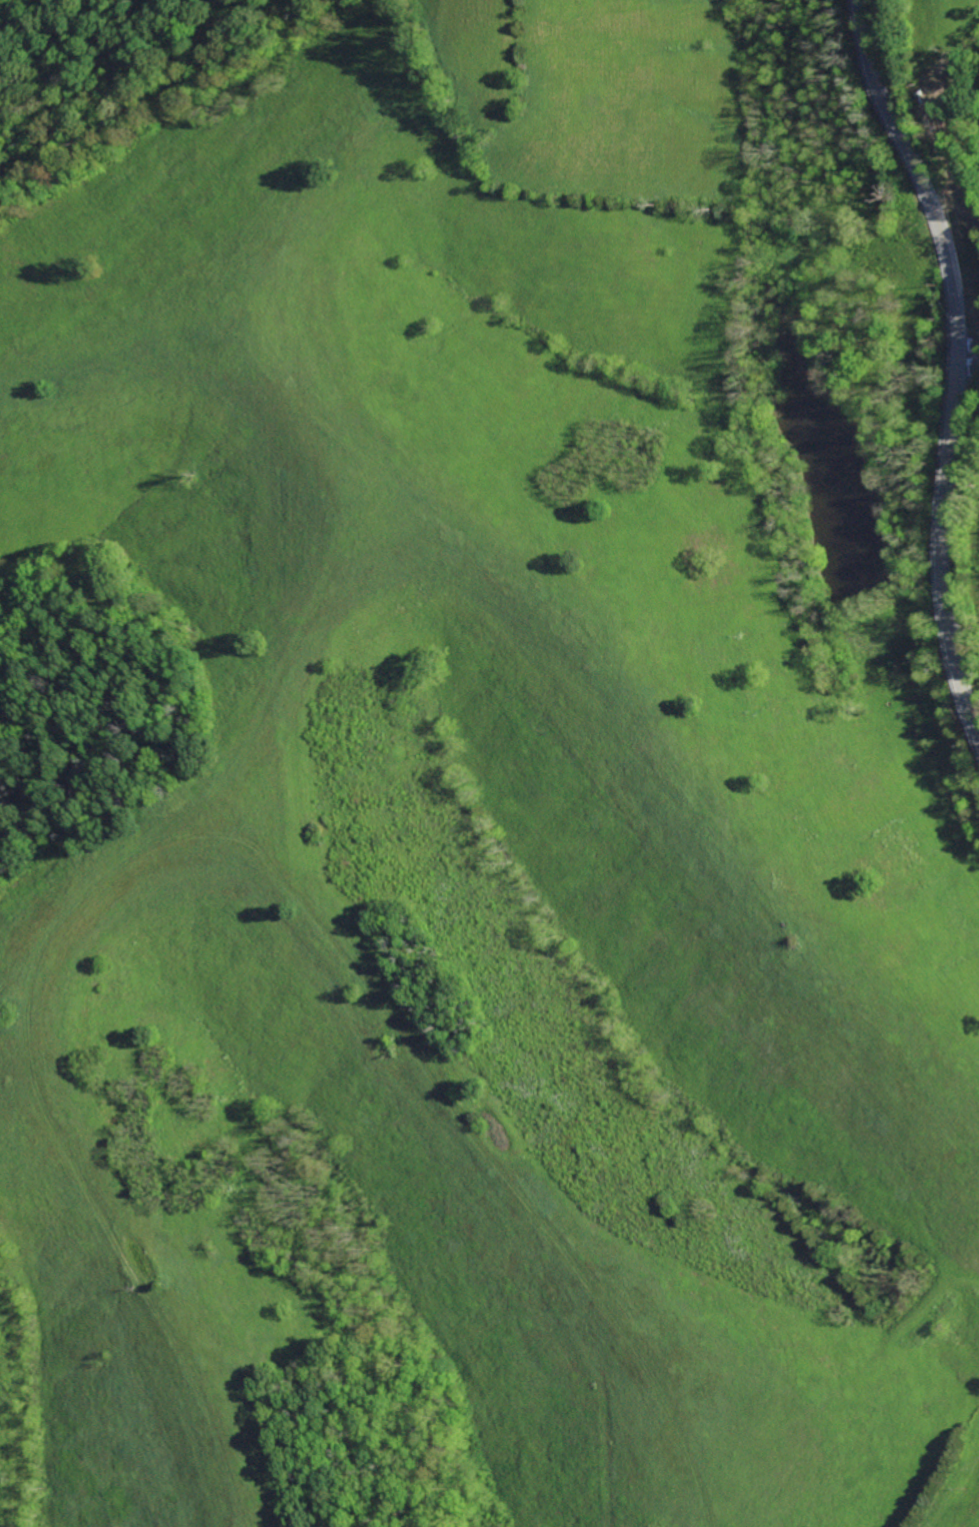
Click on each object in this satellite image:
road: (956, 364)

